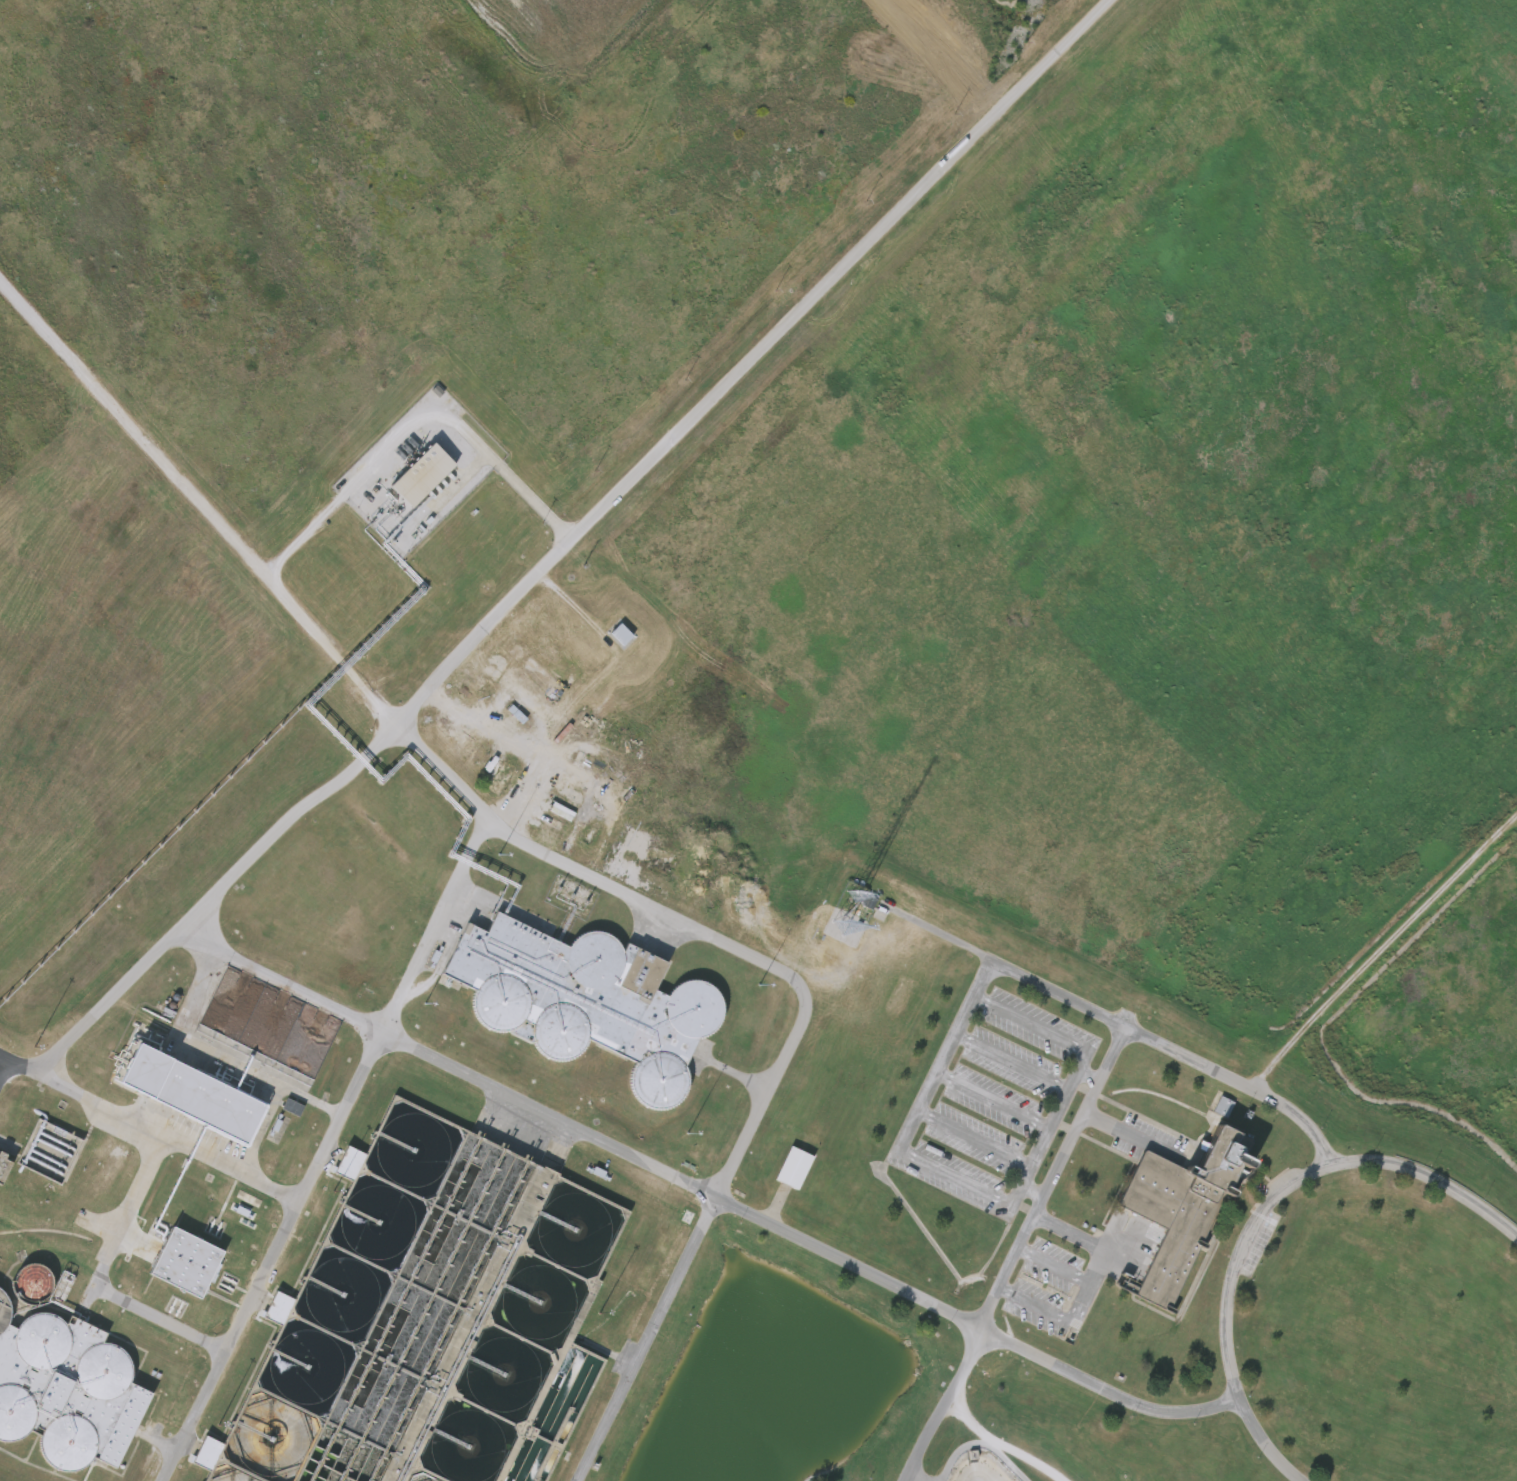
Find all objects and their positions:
building: (410, 475)
road: (553, 515)
wastewater plant: (758, 740)
road: (545, 759)
building: (489, 779)
road: (525, 795)
road: (290, 814)
building: (856, 902)
road: (433, 926)
road: (940, 933)
building: (580, 1001)
road: (796, 1017)
road: (3, 1063)
road: (933, 1079)
building: (200, 1094)
building: (281, 1107)
building: (1210, 1107)
road: (158, 1137)
building: (52, 1152)
road: (1059, 1161)
building: (338, 1163)
building: (6, 1168)
building: (791, 1168)
road: (704, 1191)
building: (1180, 1208)
road: (128, 1213)
road: (1260, 1213)
road: (270, 1256)
building: (193, 1264)
building: (37, 1284)
building: (65, 1286)
building: (267, 1308)
road: (162, 1321)
building: (429, 1321)
building: (69, 1390)
road: (942, 1404)
road: (978, 1442)
building: (196, 1453)

